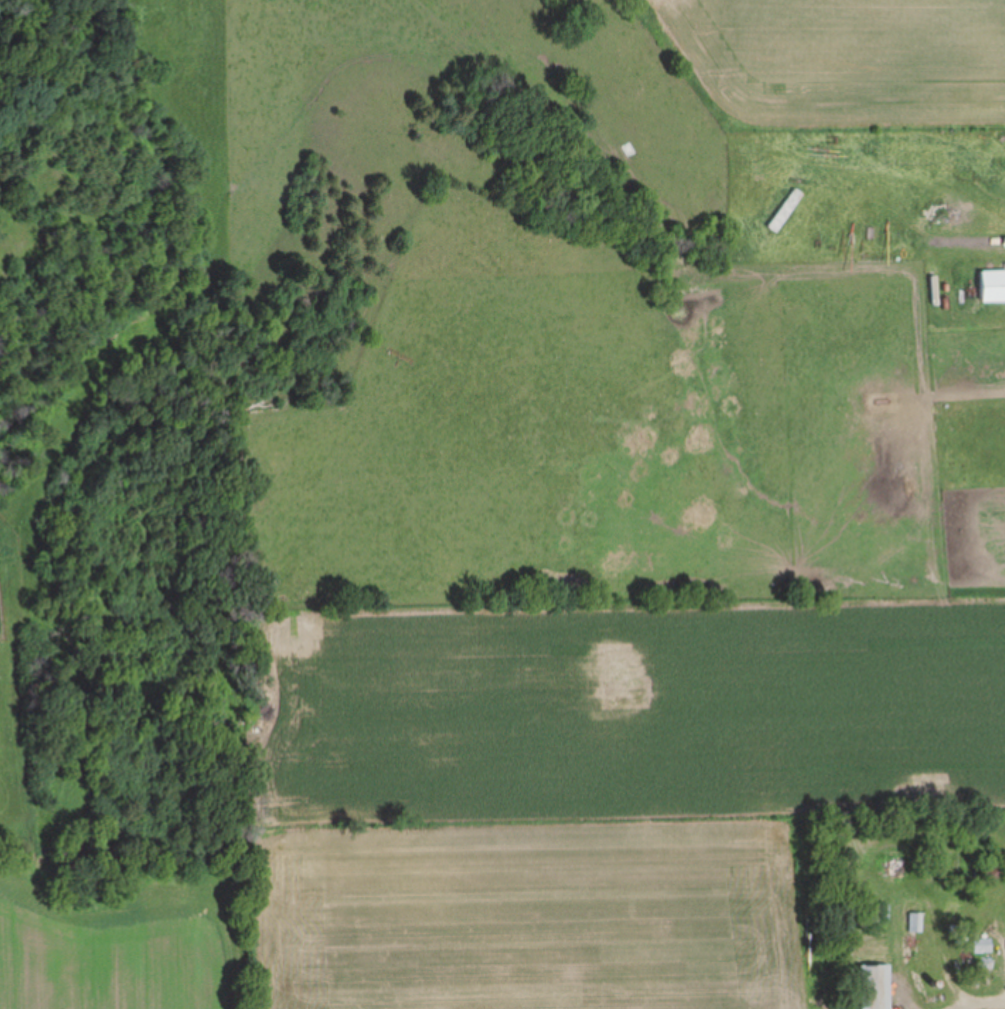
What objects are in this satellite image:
building: (992, 285)
building: (880, 911)
building: (913, 921)
building: (983, 950)
building: (874, 986)
road: (979, 1002)

